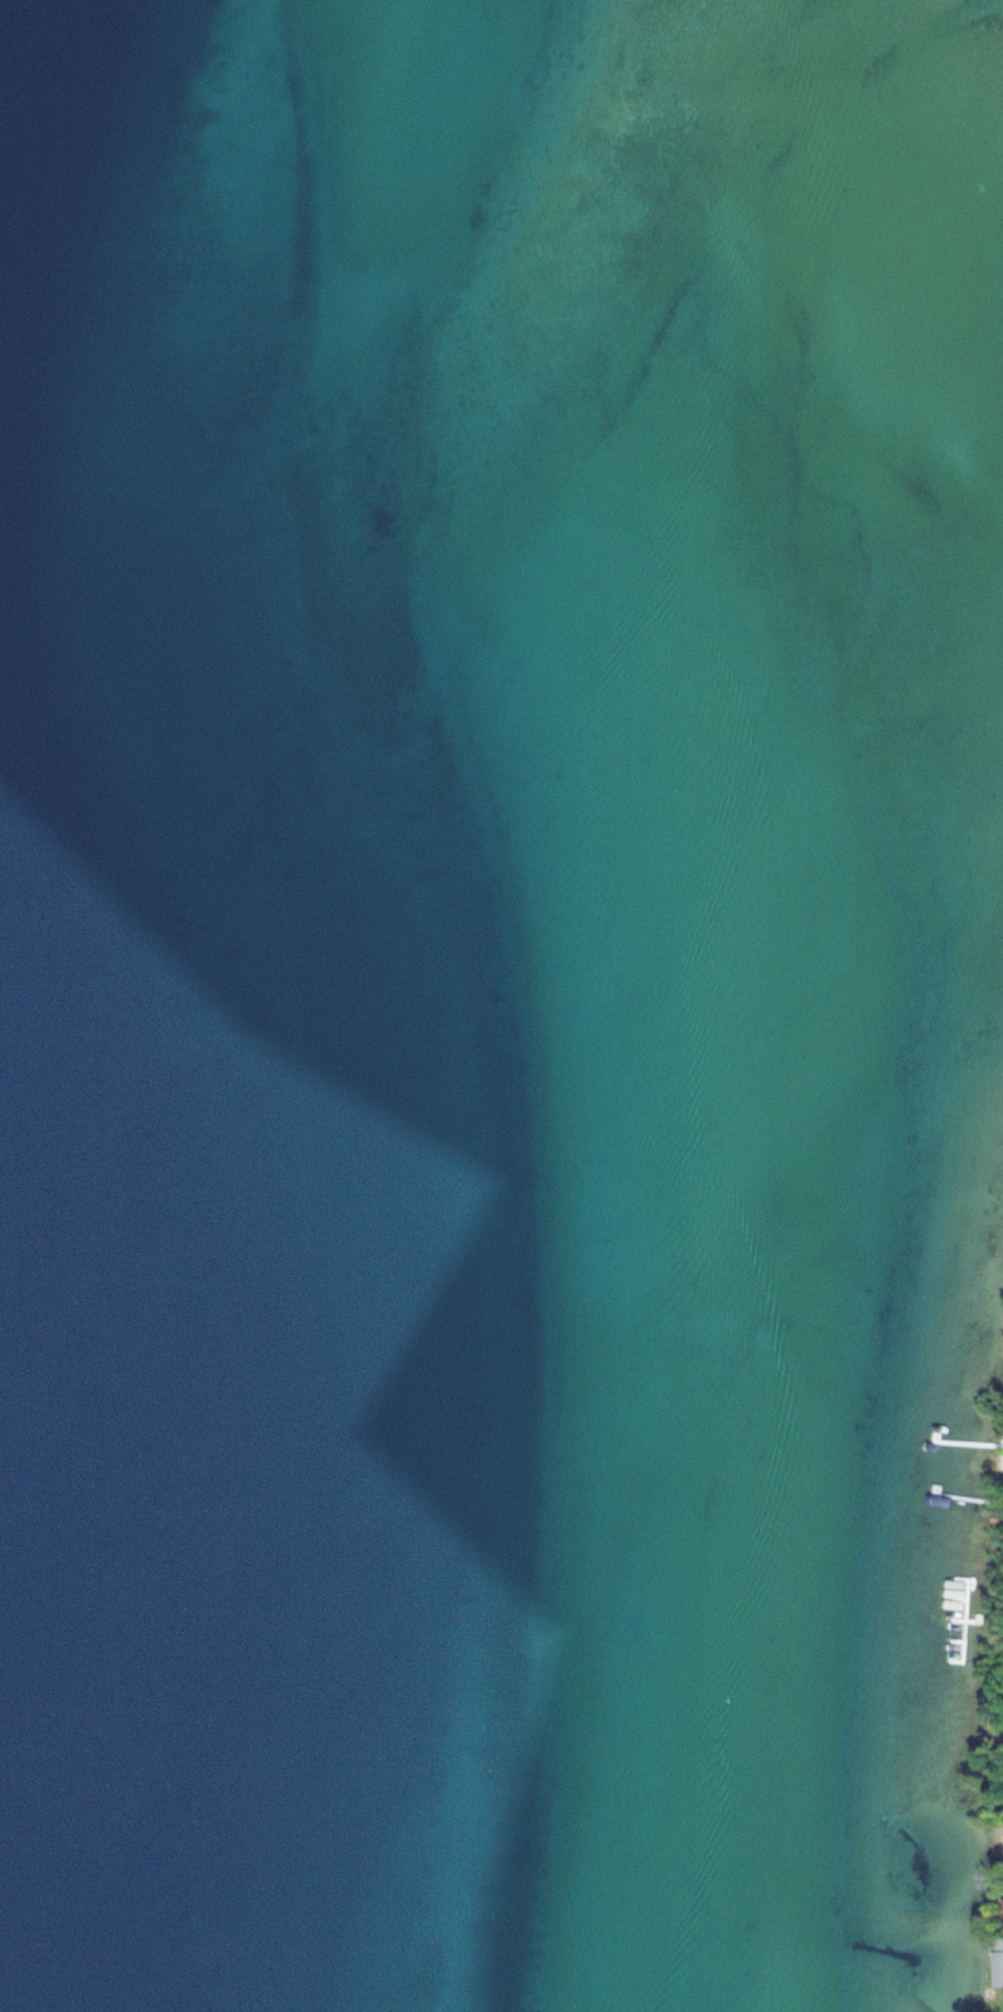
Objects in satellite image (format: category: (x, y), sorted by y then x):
building: (1001, 1914)
building: (996, 1961)

